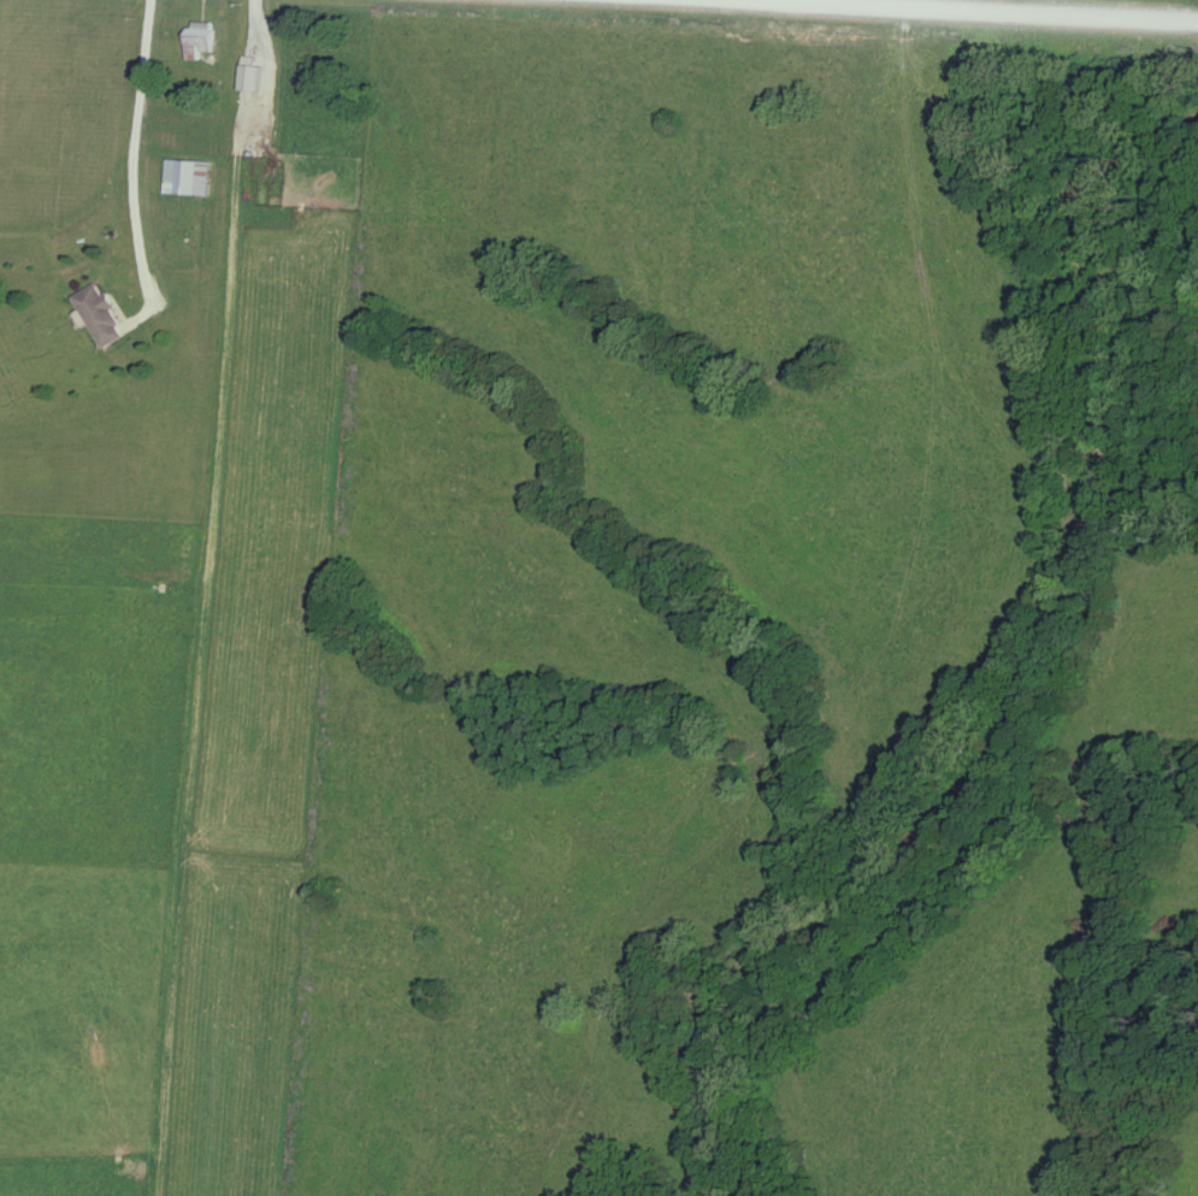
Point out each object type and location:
road: (990, 12)
building: (196, 41)
building: (252, 79)
road: (136, 176)
building: (188, 177)
building: (95, 316)

